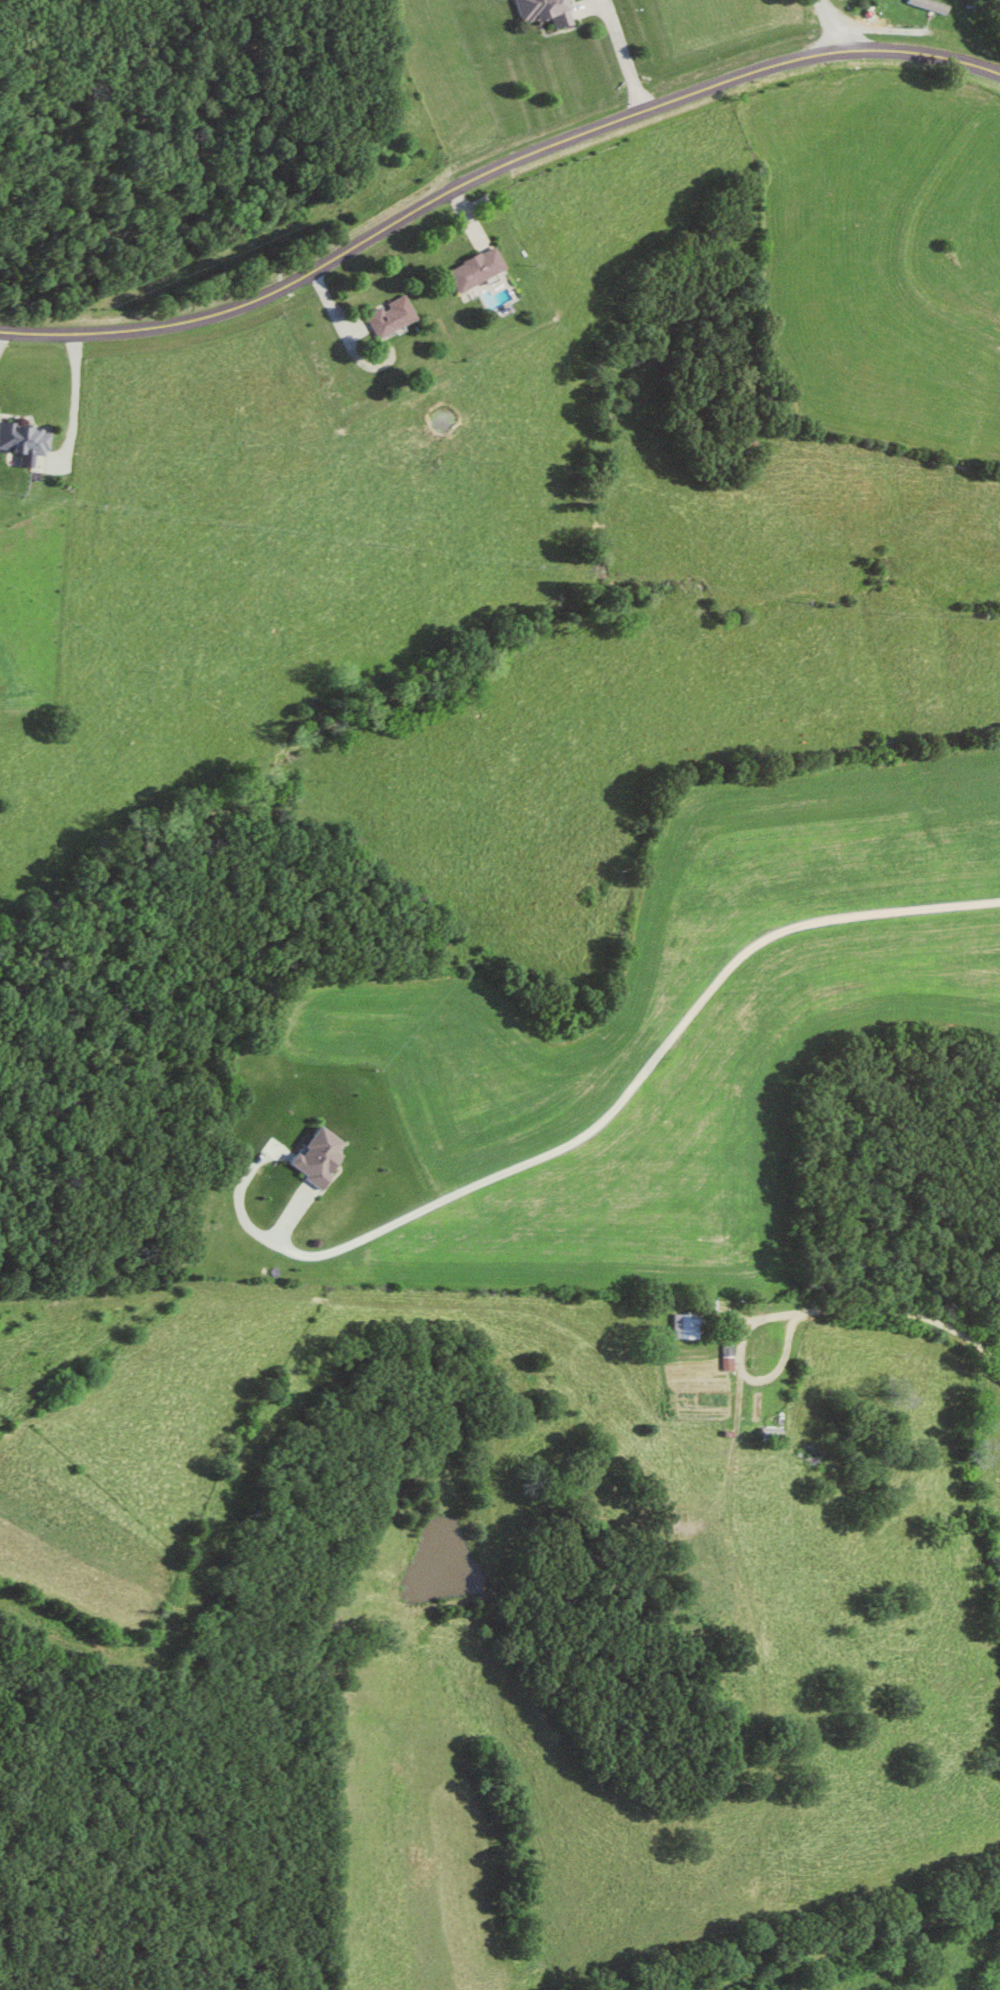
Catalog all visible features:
building: (927, 5)
building: (540, 11)
road: (831, 25)
building: (973, 45)
road: (620, 56)
road: (921, 58)
road: (422, 206)
building: (471, 269)
building: (387, 317)
building: (20, 440)
road: (644, 1072)
road: (883, 1311)
building: (683, 1327)
building: (725, 1356)
building: (766, 1435)
building: (806, 1456)

